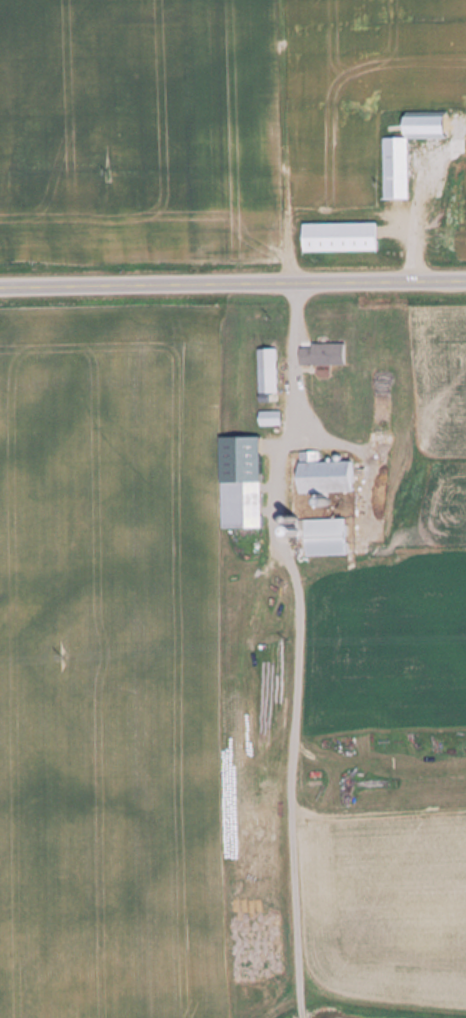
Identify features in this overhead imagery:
building: (405, 153)
building: (337, 238)
road: (233, 285)
building: (321, 355)
building: (266, 372)
building: (268, 419)
building: (323, 477)
building: (239, 505)
building: (324, 537)

